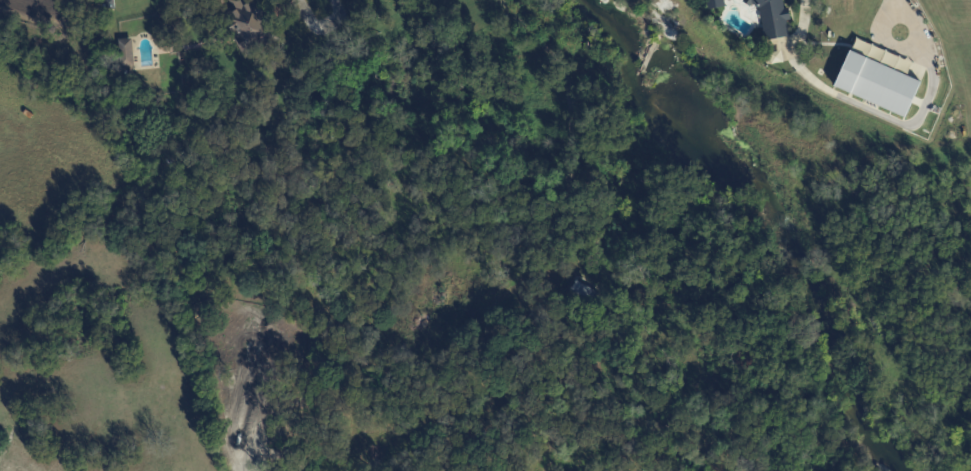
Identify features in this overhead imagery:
building: (714, 3)
road: (894, 7)
road: (285, 9)
building: (772, 17)
building: (253, 25)
road: (323, 26)
road: (901, 43)
road: (210, 44)
road: (170, 51)
building: (126, 52)
building: (877, 83)
road: (573, 129)
building: (587, 295)

